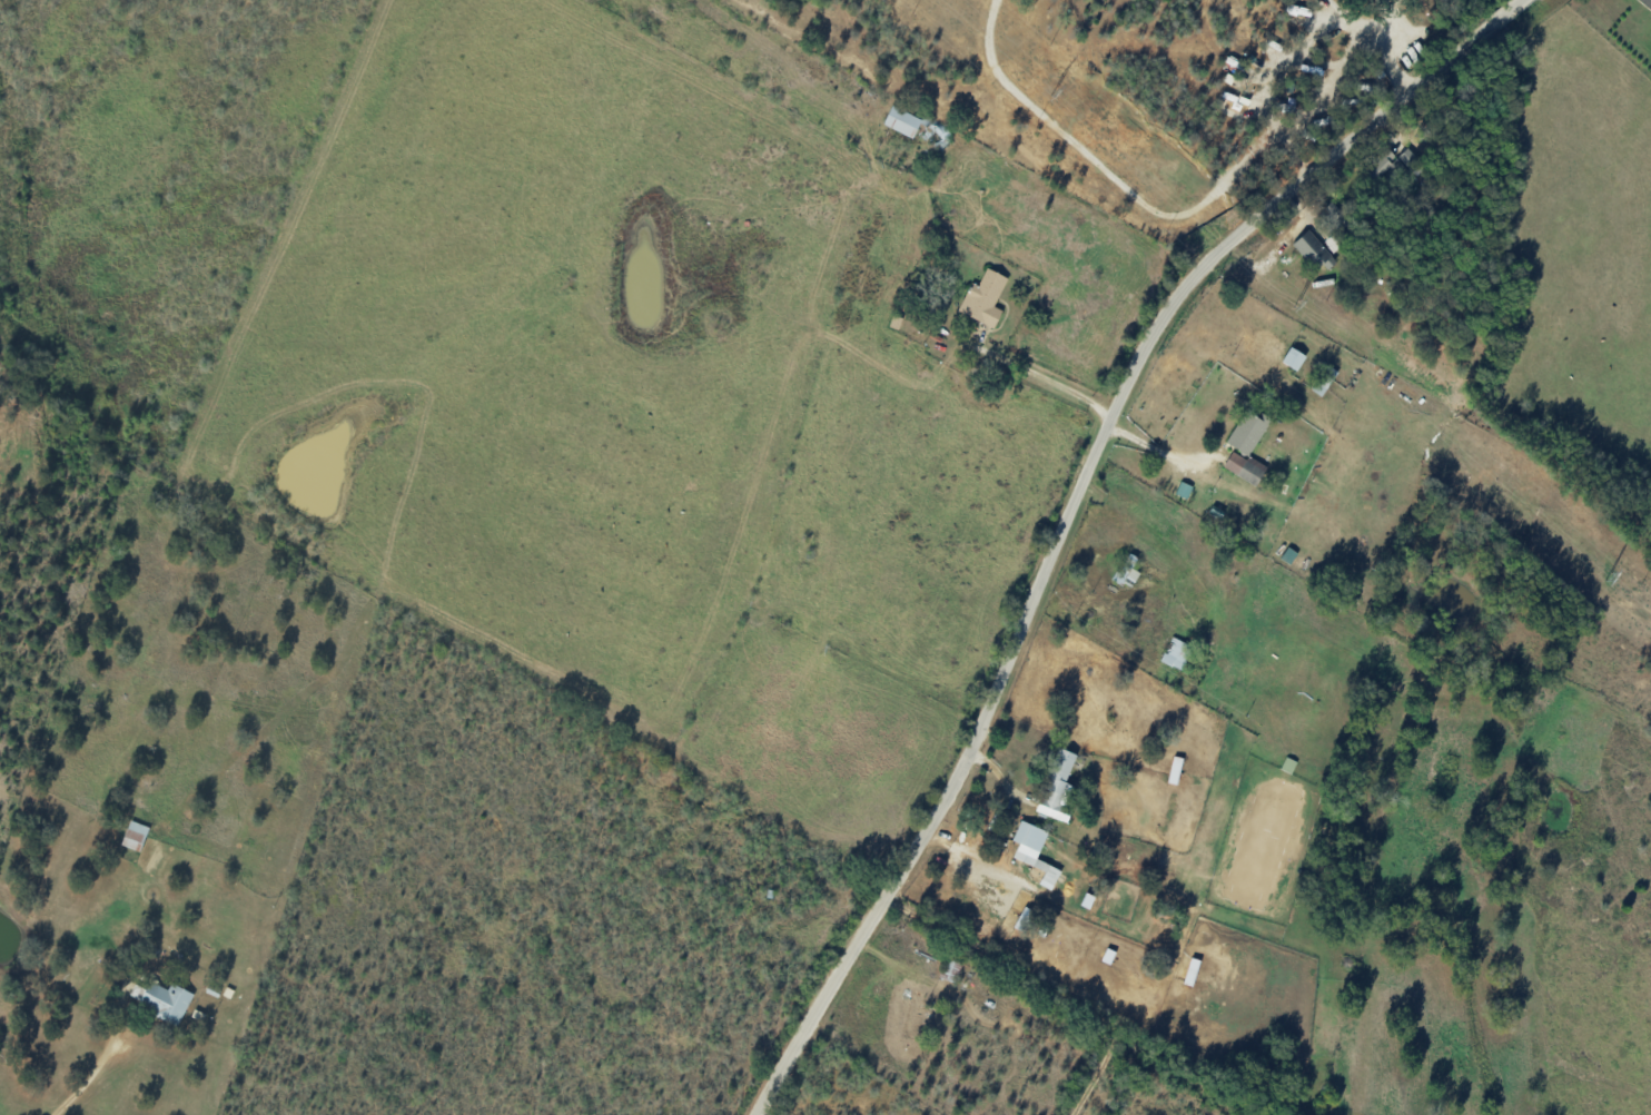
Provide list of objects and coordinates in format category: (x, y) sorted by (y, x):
road: (1641, 7)
building: (1297, 12)
road: (1387, 32)
road: (1294, 50)
road: (1323, 86)
power tower: (1056, 89)
building: (902, 121)
building: (1408, 157)
building: (1382, 171)
road: (1103, 180)
building: (1314, 250)
building: (983, 298)
power tower: (1298, 300)
building: (1294, 358)
road: (1045, 379)
building: (1247, 433)
building: (1245, 467)
road: (1074, 505)
power tower: (1609, 575)
building: (1177, 653)
building: (1057, 787)
building: (135, 836)
building: (1035, 851)
road: (1048, 981)
building: (162, 999)
road: (87, 1079)

